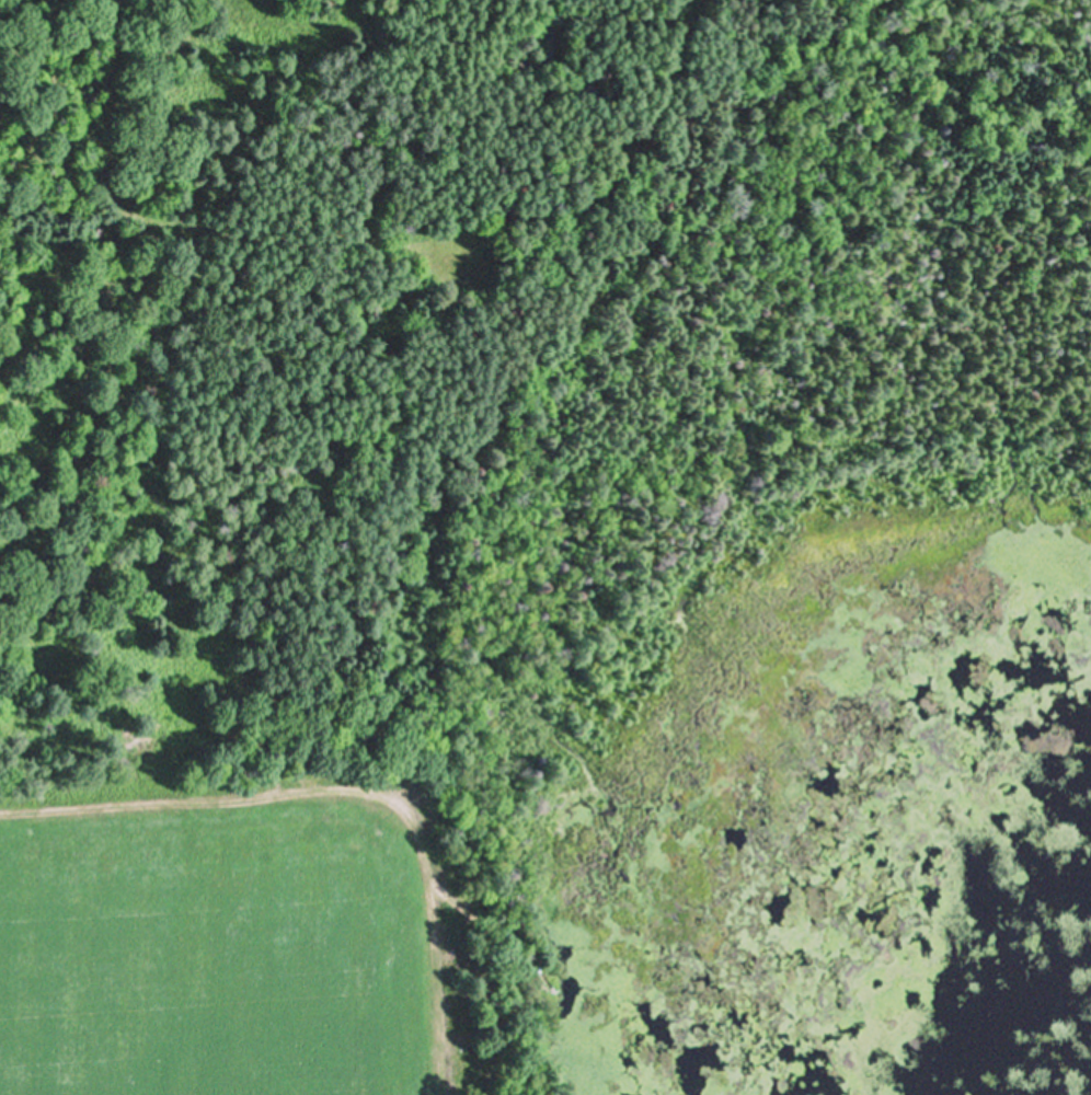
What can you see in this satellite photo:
crop: (227, 940)

